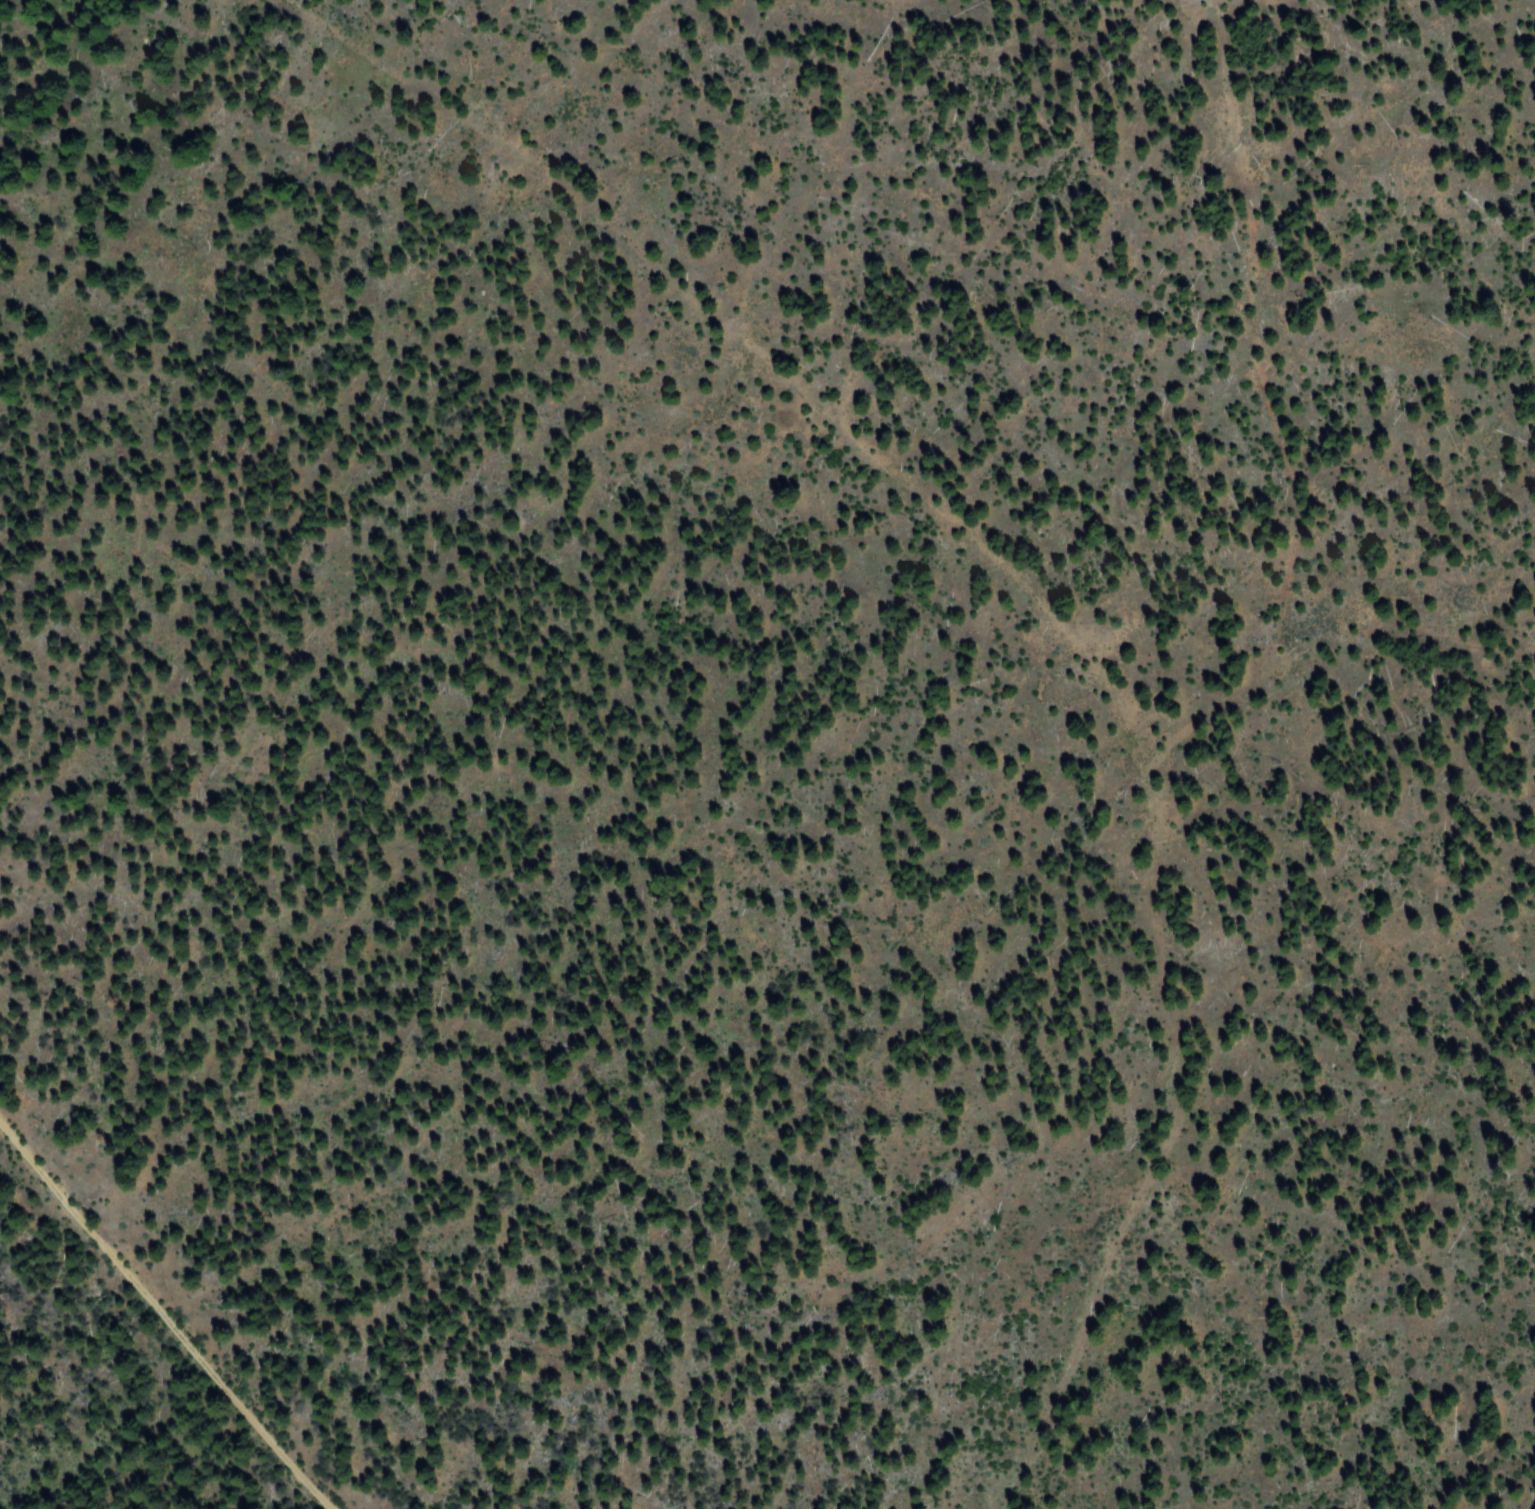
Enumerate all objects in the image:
road: (513, 145)
road: (1156, 848)
road: (165, 1321)

